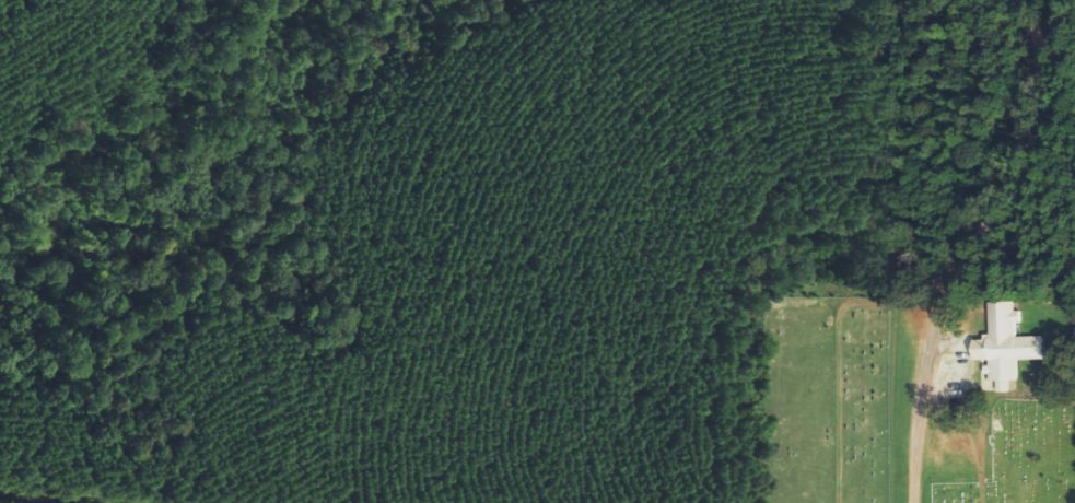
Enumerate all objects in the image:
road: (993, 251)
building: (1004, 343)
park: (914, 393)

